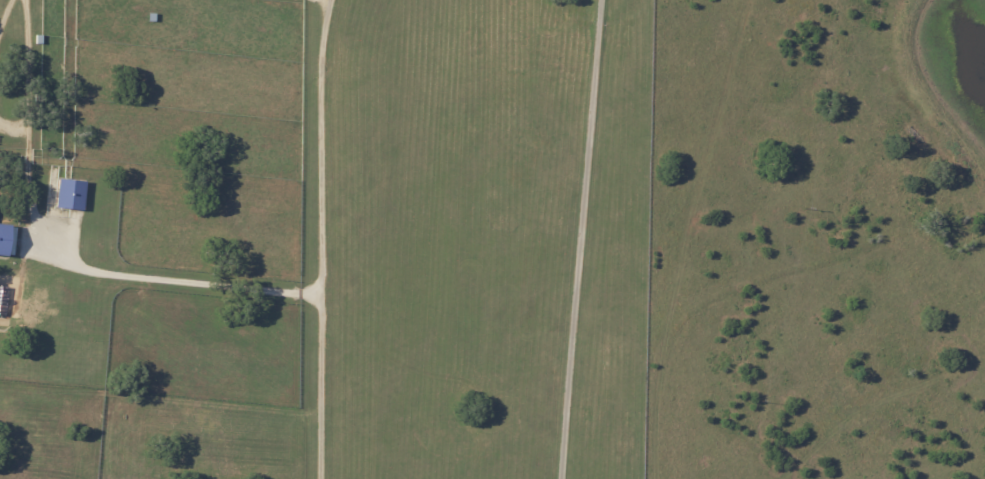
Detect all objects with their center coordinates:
road: (323, 1)
building: (153, 17)
building: (40, 39)
building: (39, 98)
road: (317, 148)
building: (71, 194)
building: (7, 239)
road: (575, 239)
road: (57, 253)
road: (317, 387)

